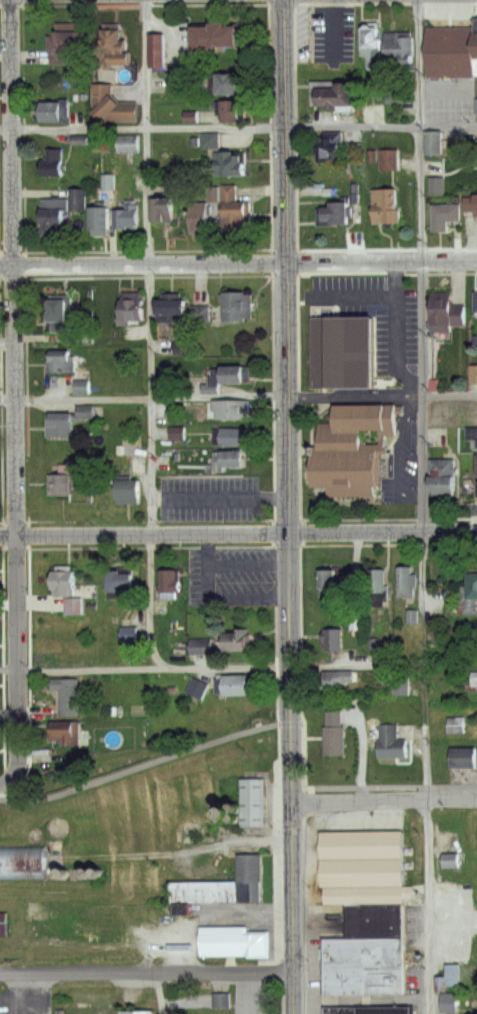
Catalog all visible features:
building: (372, 36)
building: (216, 37)
building: (452, 43)
building: (64, 44)
building: (159, 51)
building: (118, 57)
building: (229, 85)
building: (338, 95)
parking lot: (447, 98)
building: (113, 106)
building: (54, 112)
building: (231, 112)
road: (449, 123)
road: (210, 128)
road: (421, 129)
building: (212, 140)
building: (429, 142)
building: (476, 142)
building: (125, 143)
building: (329, 145)
building: (390, 160)
building: (231, 163)
building: (52, 165)
building: (476, 169)
building: (471, 204)
building: (386, 209)
building: (163, 211)
building: (236, 212)
building: (129, 214)
building: (54, 215)
building: (334, 215)
building: (443, 216)
building: (200, 218)
building: (101, 220)
road: (238, 260)
building: (474, 302)
building: (238, 307)
building: (132, 311)
building: (171, 312)
building: (61, 314)
building: (202, 314)
building: (442, 314)
road: (397, 328)
road: (151, 336)
building: (341, 341)
building: (60, 361)
parking lot: (381, 363)
building: (229, 373)
building: (473, 375)
building: (78, 386)
road: (420, 394)
road: (15, 395)
road: (347, 395)
road: (75, 400)
building: (229, 410)
road: (407, 411)
building: (474, 415)
building: (58, 424)
building: (473, 438)
building: (230, 439)
building: (351, 448)
building: (229, 462)
building: (476, 466)
road: (399, 467)
building: (441, 480)
building: (57, 488)
building: (475, 488)
building: (123, 494)
parking lot: (214, 497)
road: (288, 506)
road: (238, 532)
parking lot: (232, 575)
building: (379, 579)
building: (409, 579)
building: (167, 583)
building: (332, 585)
building: (117, 588)
building: (70, 592)
building: (472, 595)
building: (334, 639)
building: (200, 645)
building: (235, 646)
road: (144, 670)
building: (337, 677)
building: (236, 685)
building: (196, 687)
building: (67, 695)
building: (453, 725)
building: (68, 731)
building: (333, 734)
building: (391, 742)
building: (462, 757)
road: (145, 759)
road: (383, 793)
road: (383, 800)
building: (250, 803)
building: (216, 810)
building: (21, 860)
building: (360, 867)
building: (223, 887)
road: (426, 906)
building: (3, 923)
building: (371, 923)
building: (228, 940)
building: (361, 971)
road: (145, 973)
building: (448, 975)
road: (158, 993)
building: (221, 999)
building: (447, 1001)
building: (245, 1002)
building: (367, 1010)
building: (134, 1011)

